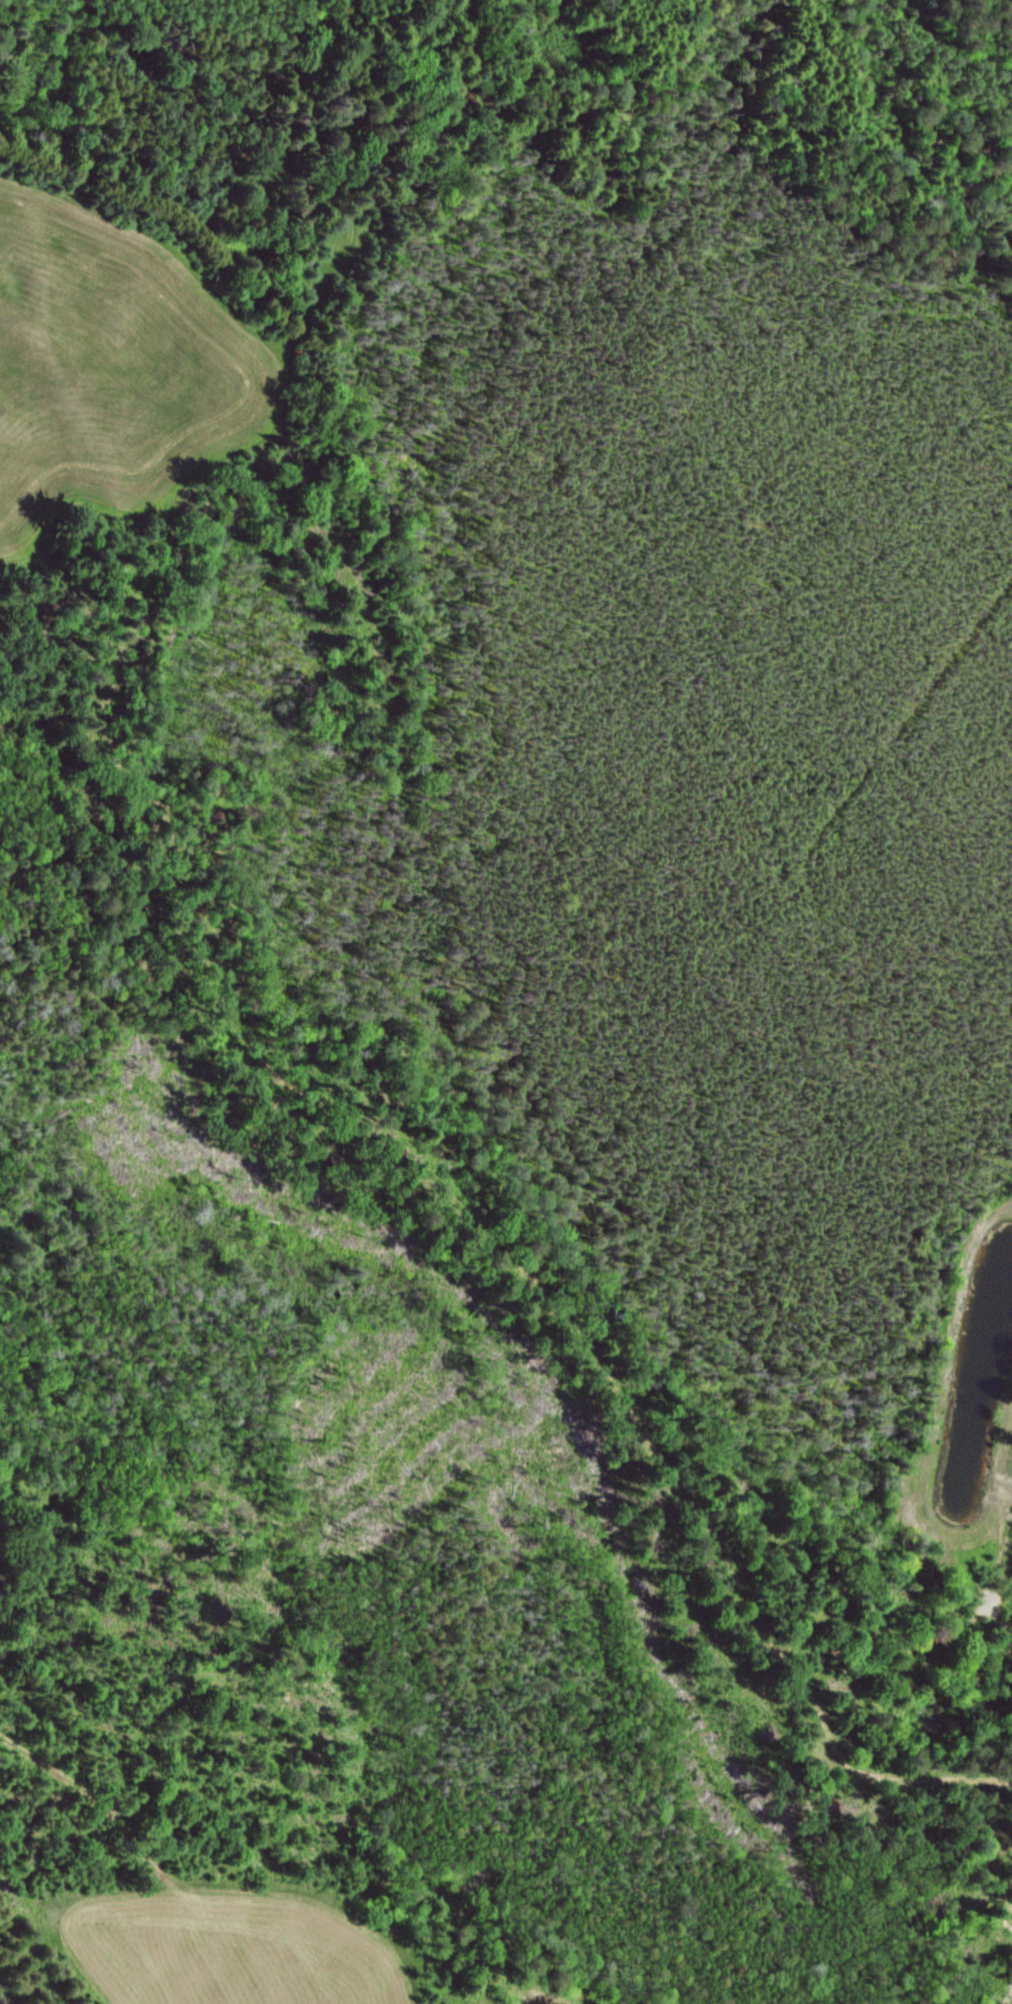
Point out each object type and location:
road: (206, 1888)

